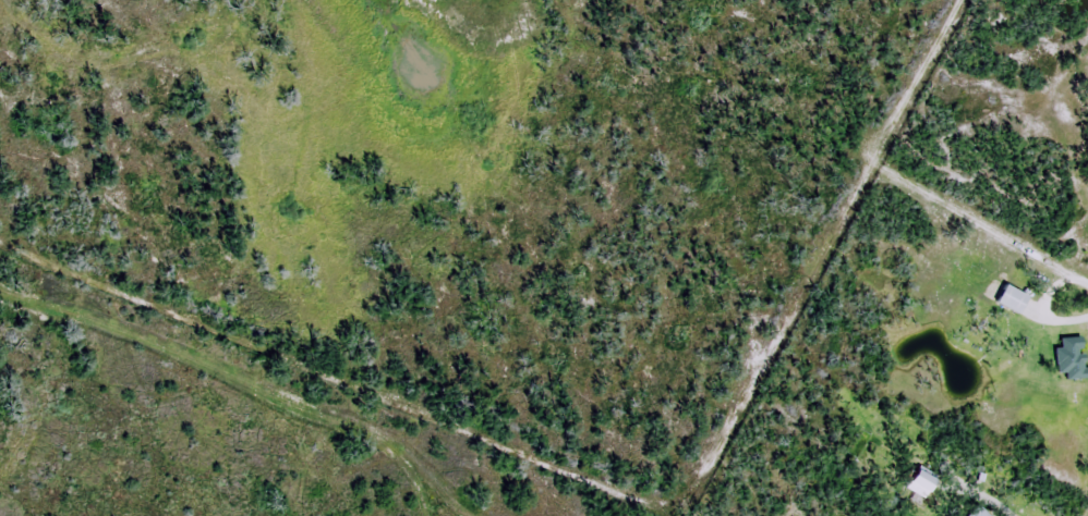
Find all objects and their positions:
building: (1008, 299)
building: (1067, 357)
building: (918, 482)

